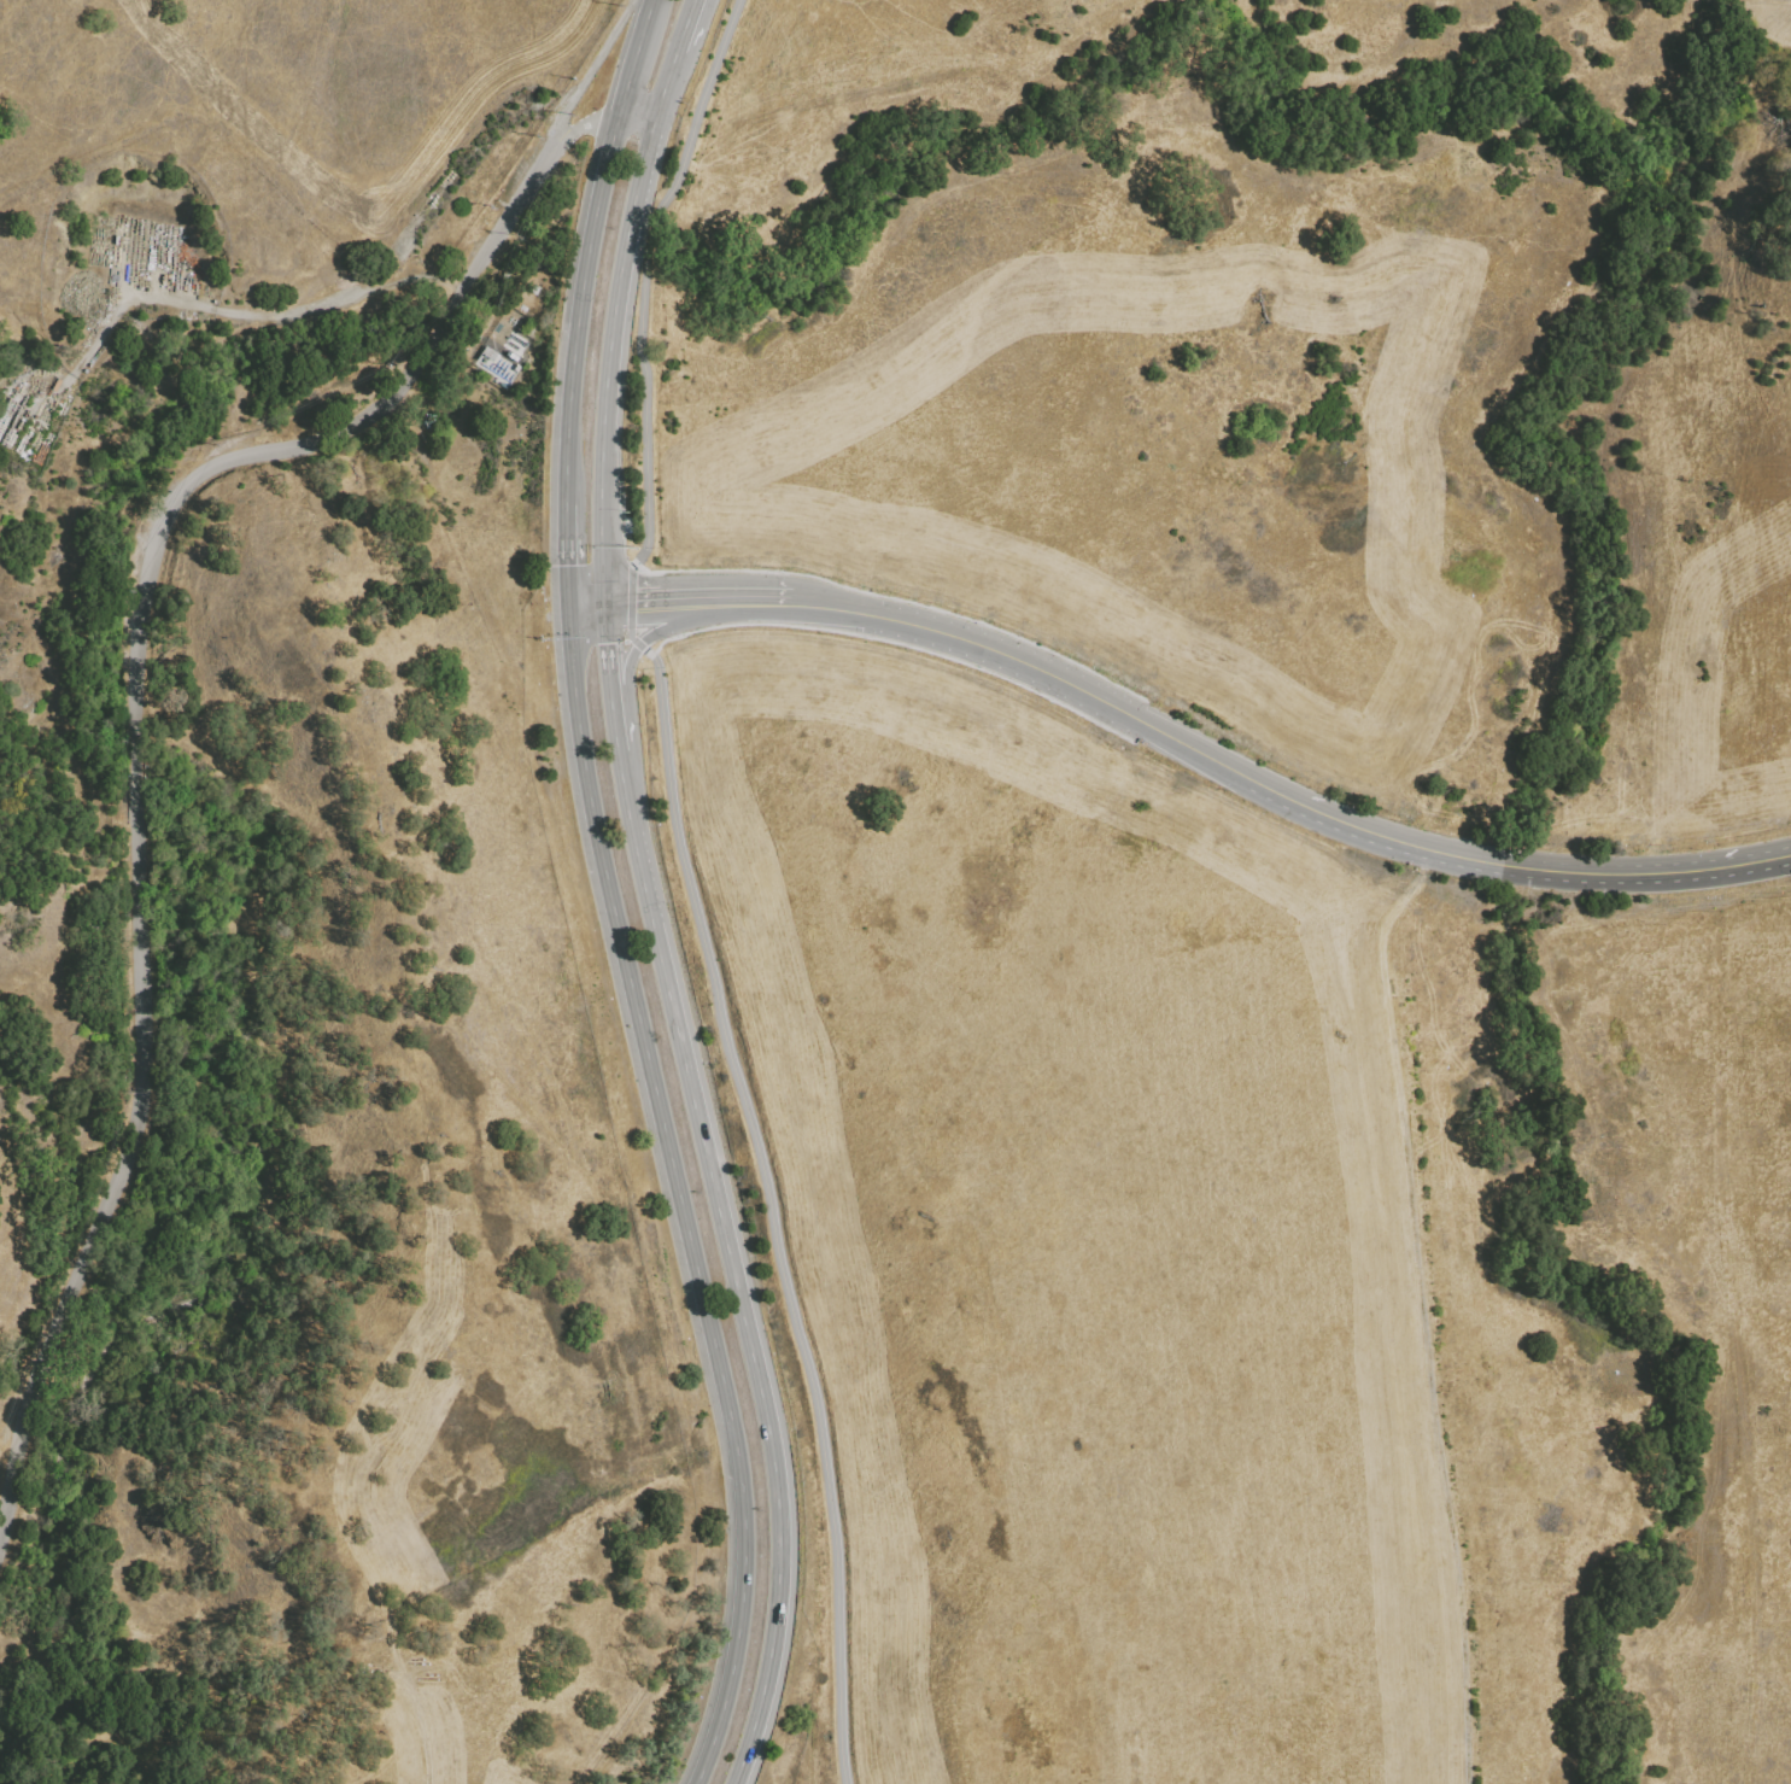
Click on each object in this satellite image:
road: (633, 2)
road: (645, 4)
road: (680, 48)
road: (627, 62)
road: (591, 68)
road: (639, 106)
road: (581, 125)
road: (573, 308)
road: (253, 315)
road: (614, 350)
building: (491, 364)
road: (305, 445)
road: (561, 557)
traffic signals: (562, 562)
road: (744, 602)
road: (649, 604)
traffic signals: (633, 606)
road: (584, 608)
road: (831, 609)
road: (679, 613)
traffic signals: (608, 634)
road: (608, 645)
road: (1008, 657)
road: (628, 720)
building: (1498, 731)
road: (1195, 751)
road: (625, 758)
road: (136, 767)
building: (1446, 778)
building: (1633, 821)
road: (1768, 860)
road: (1489, 864)
road: (646, 877)
road: (689, 881)
road: (125, 1166)
road: (673, 1197)
road: (1430, 1316)
road: (755, 1351)
building: (369, 1637)
building: (379, 1673)
road: (420, 1737)

